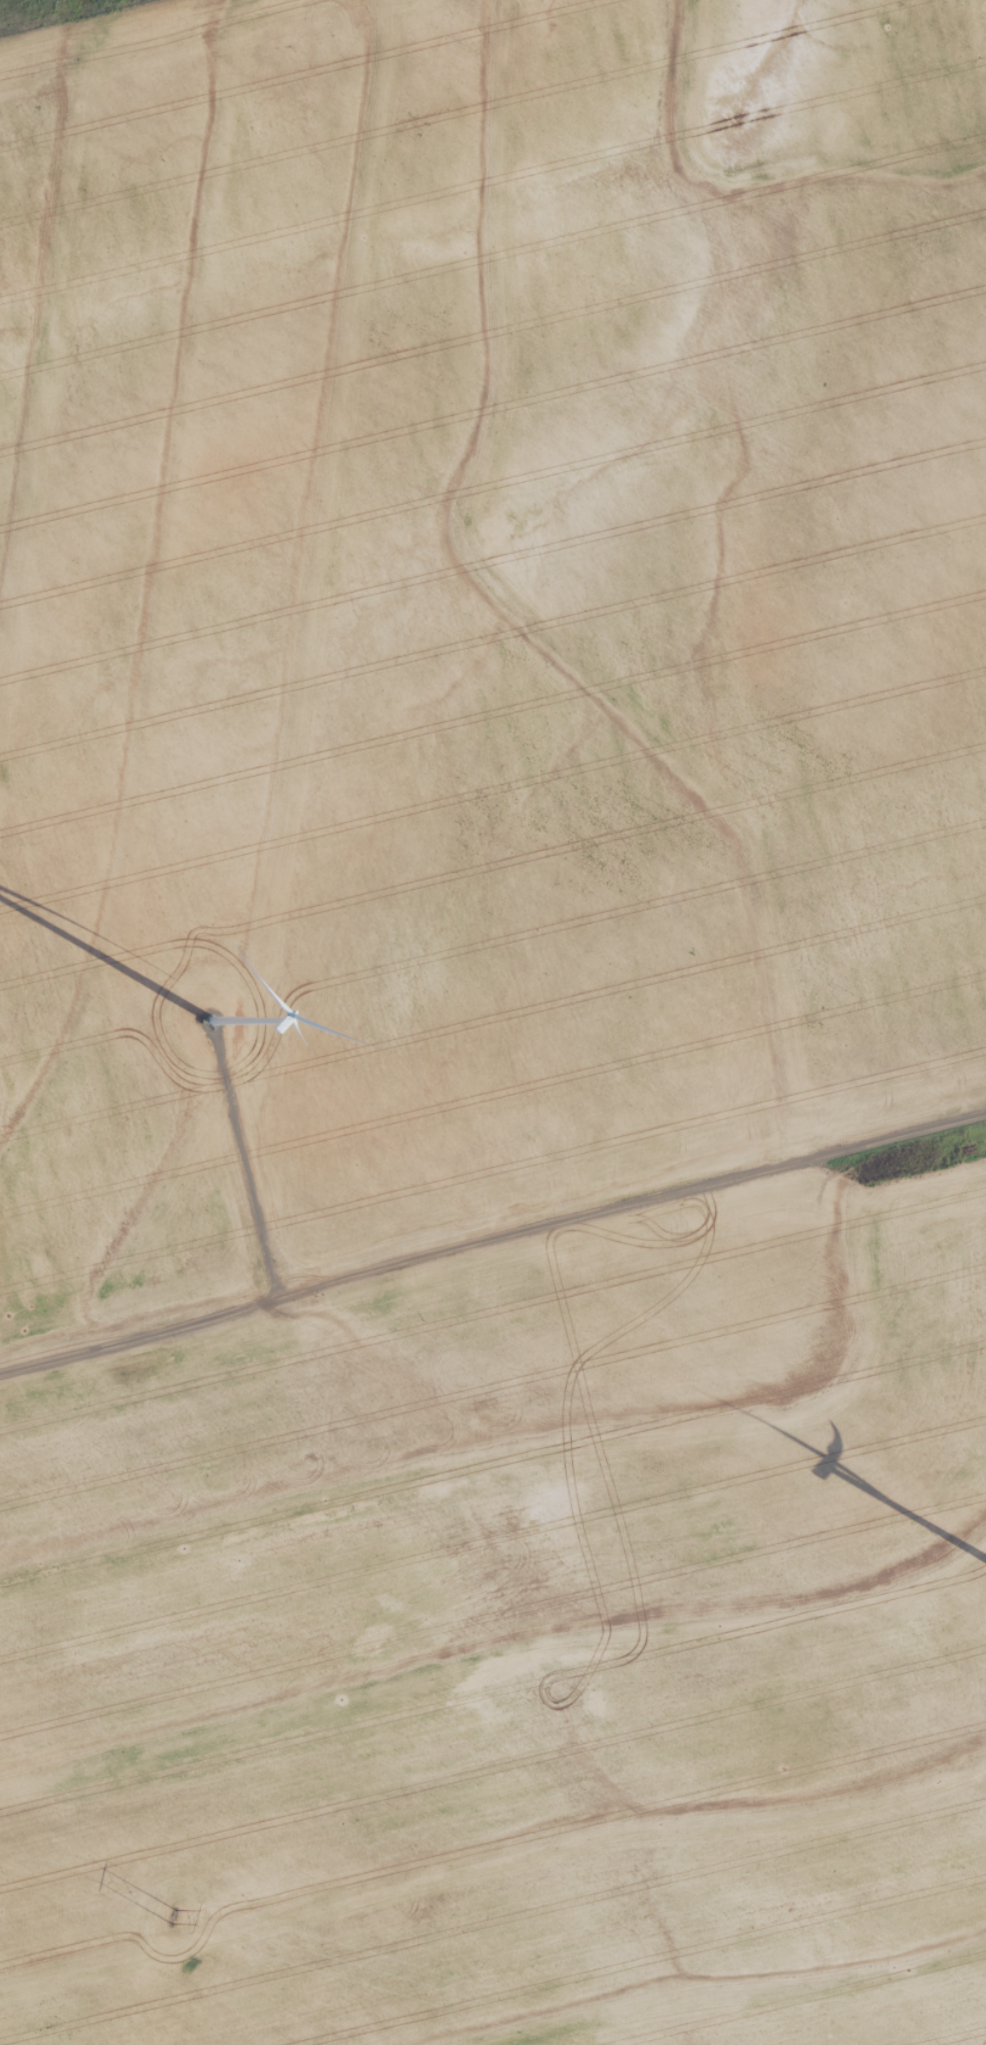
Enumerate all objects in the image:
wind turbine: (205, 1025)
road: (881, 1120)
power tower: (171, 1918)

